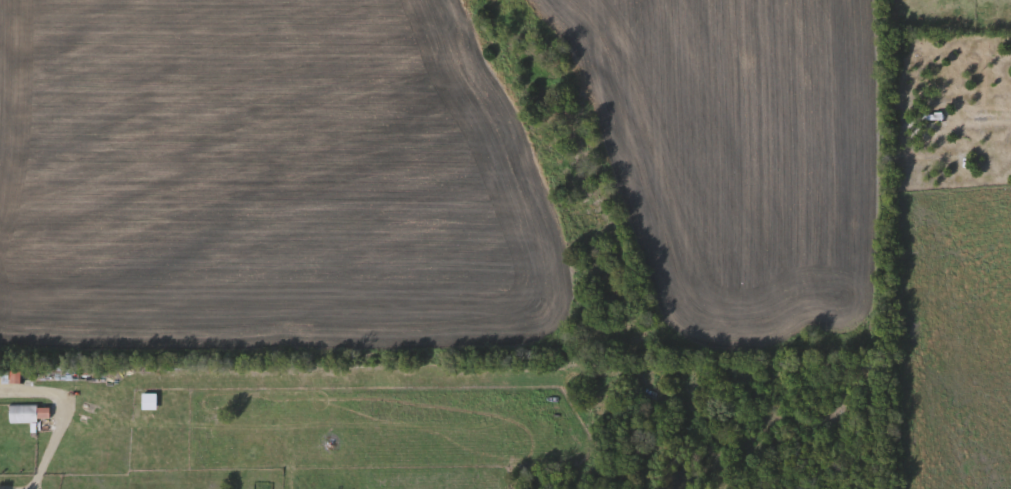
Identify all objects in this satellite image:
building: (5, 376)
building: (25, 415)
road: (60, 427)
road: (35, 488)

